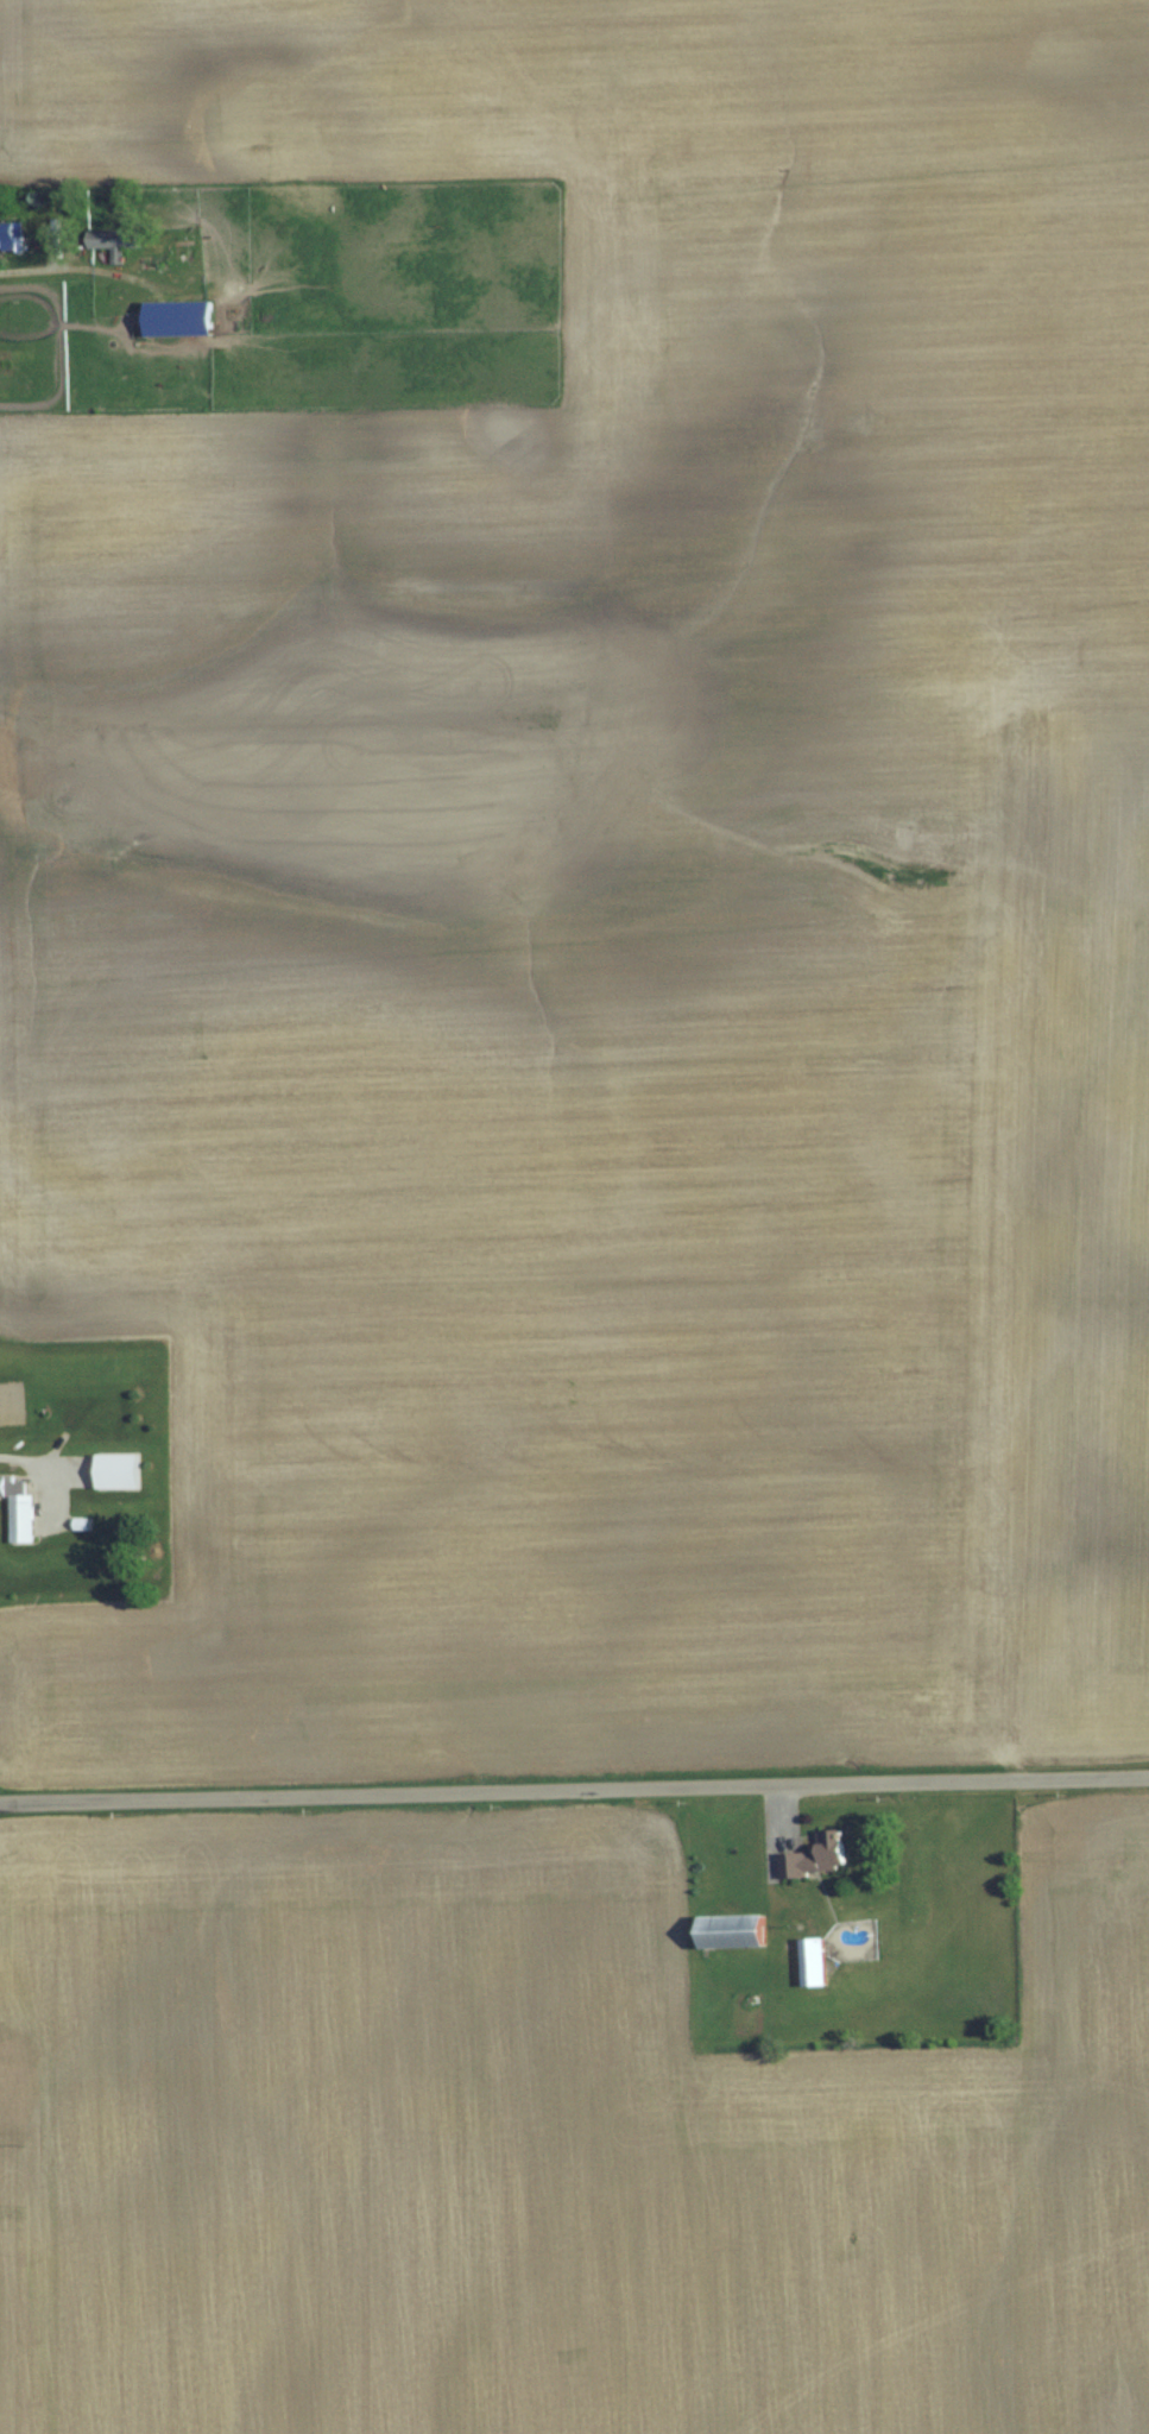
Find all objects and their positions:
building: (12, 238)
building: (115, 240)
road: (101, 263)
building: (183, 320)
building: (120, 1471)
building: (21, 1512)
road: (574, 1786)
building: (819, 1856)
building: (737, 1931)
building: (815, 1962)

